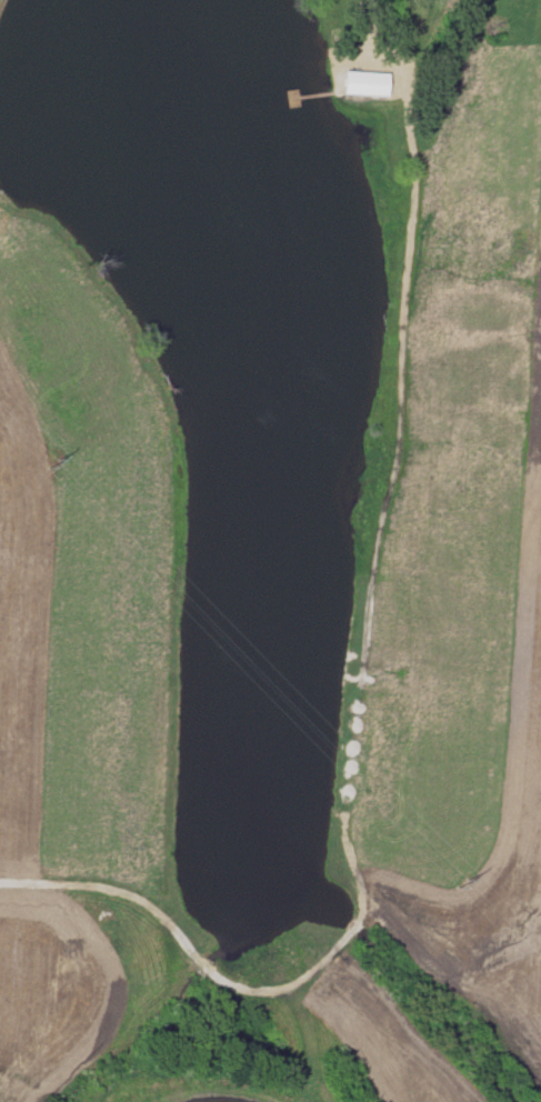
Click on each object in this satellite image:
building: (363, 82)
power tower: (64, 474)
crop: (464, 557)
power tower: (471, 895)

